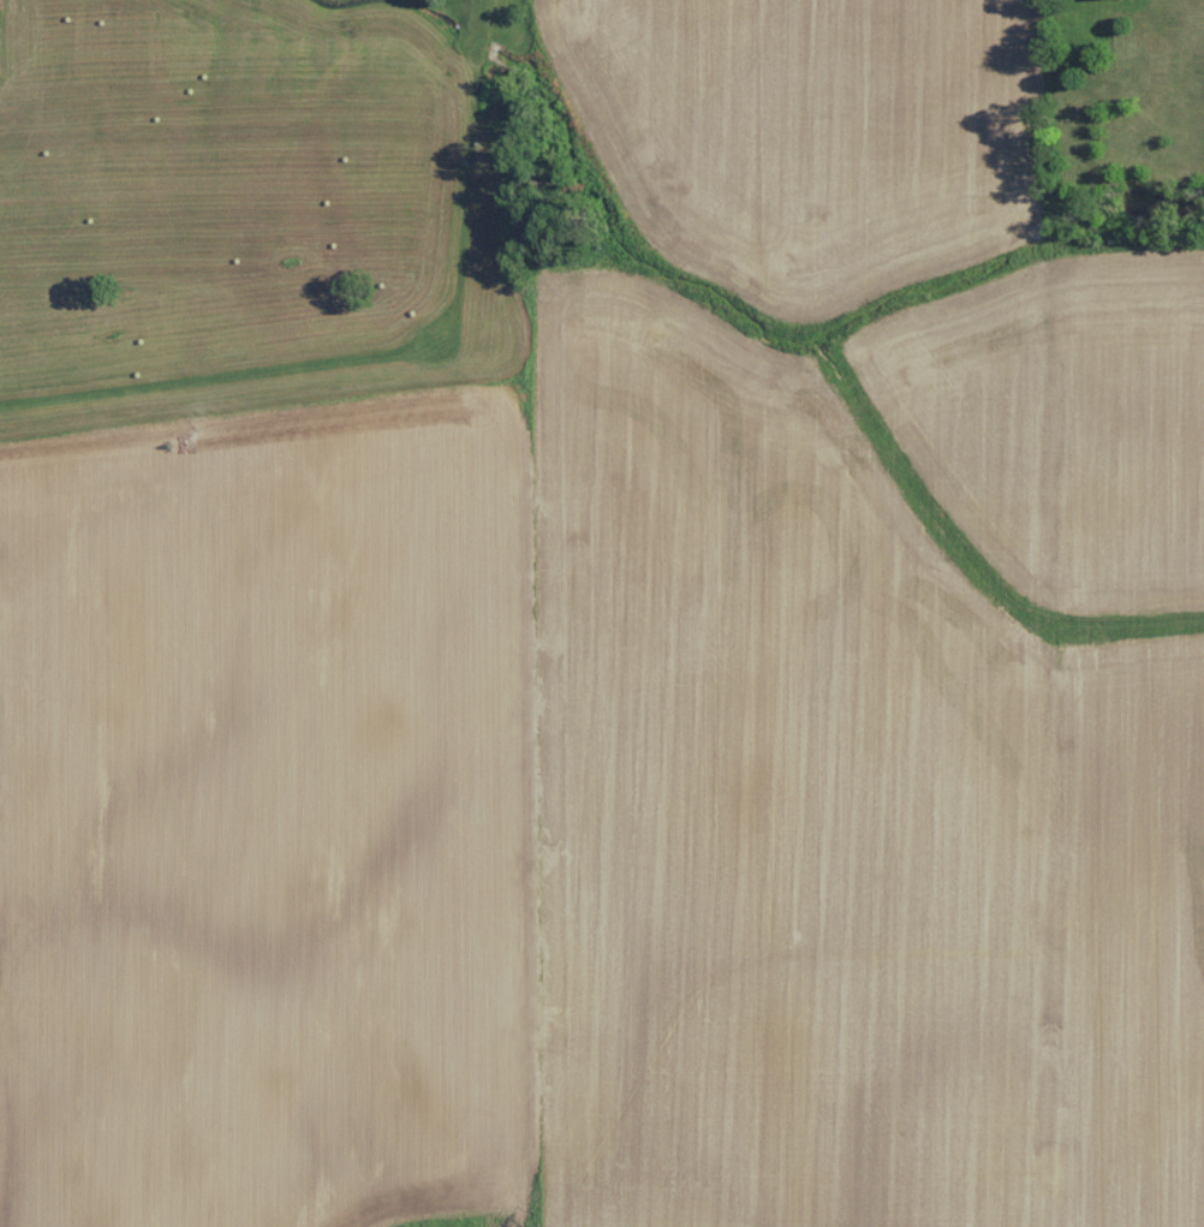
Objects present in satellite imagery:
airport: (489, 159)
airport taxiway: (469, 178)
airport runway: (216, 374)

